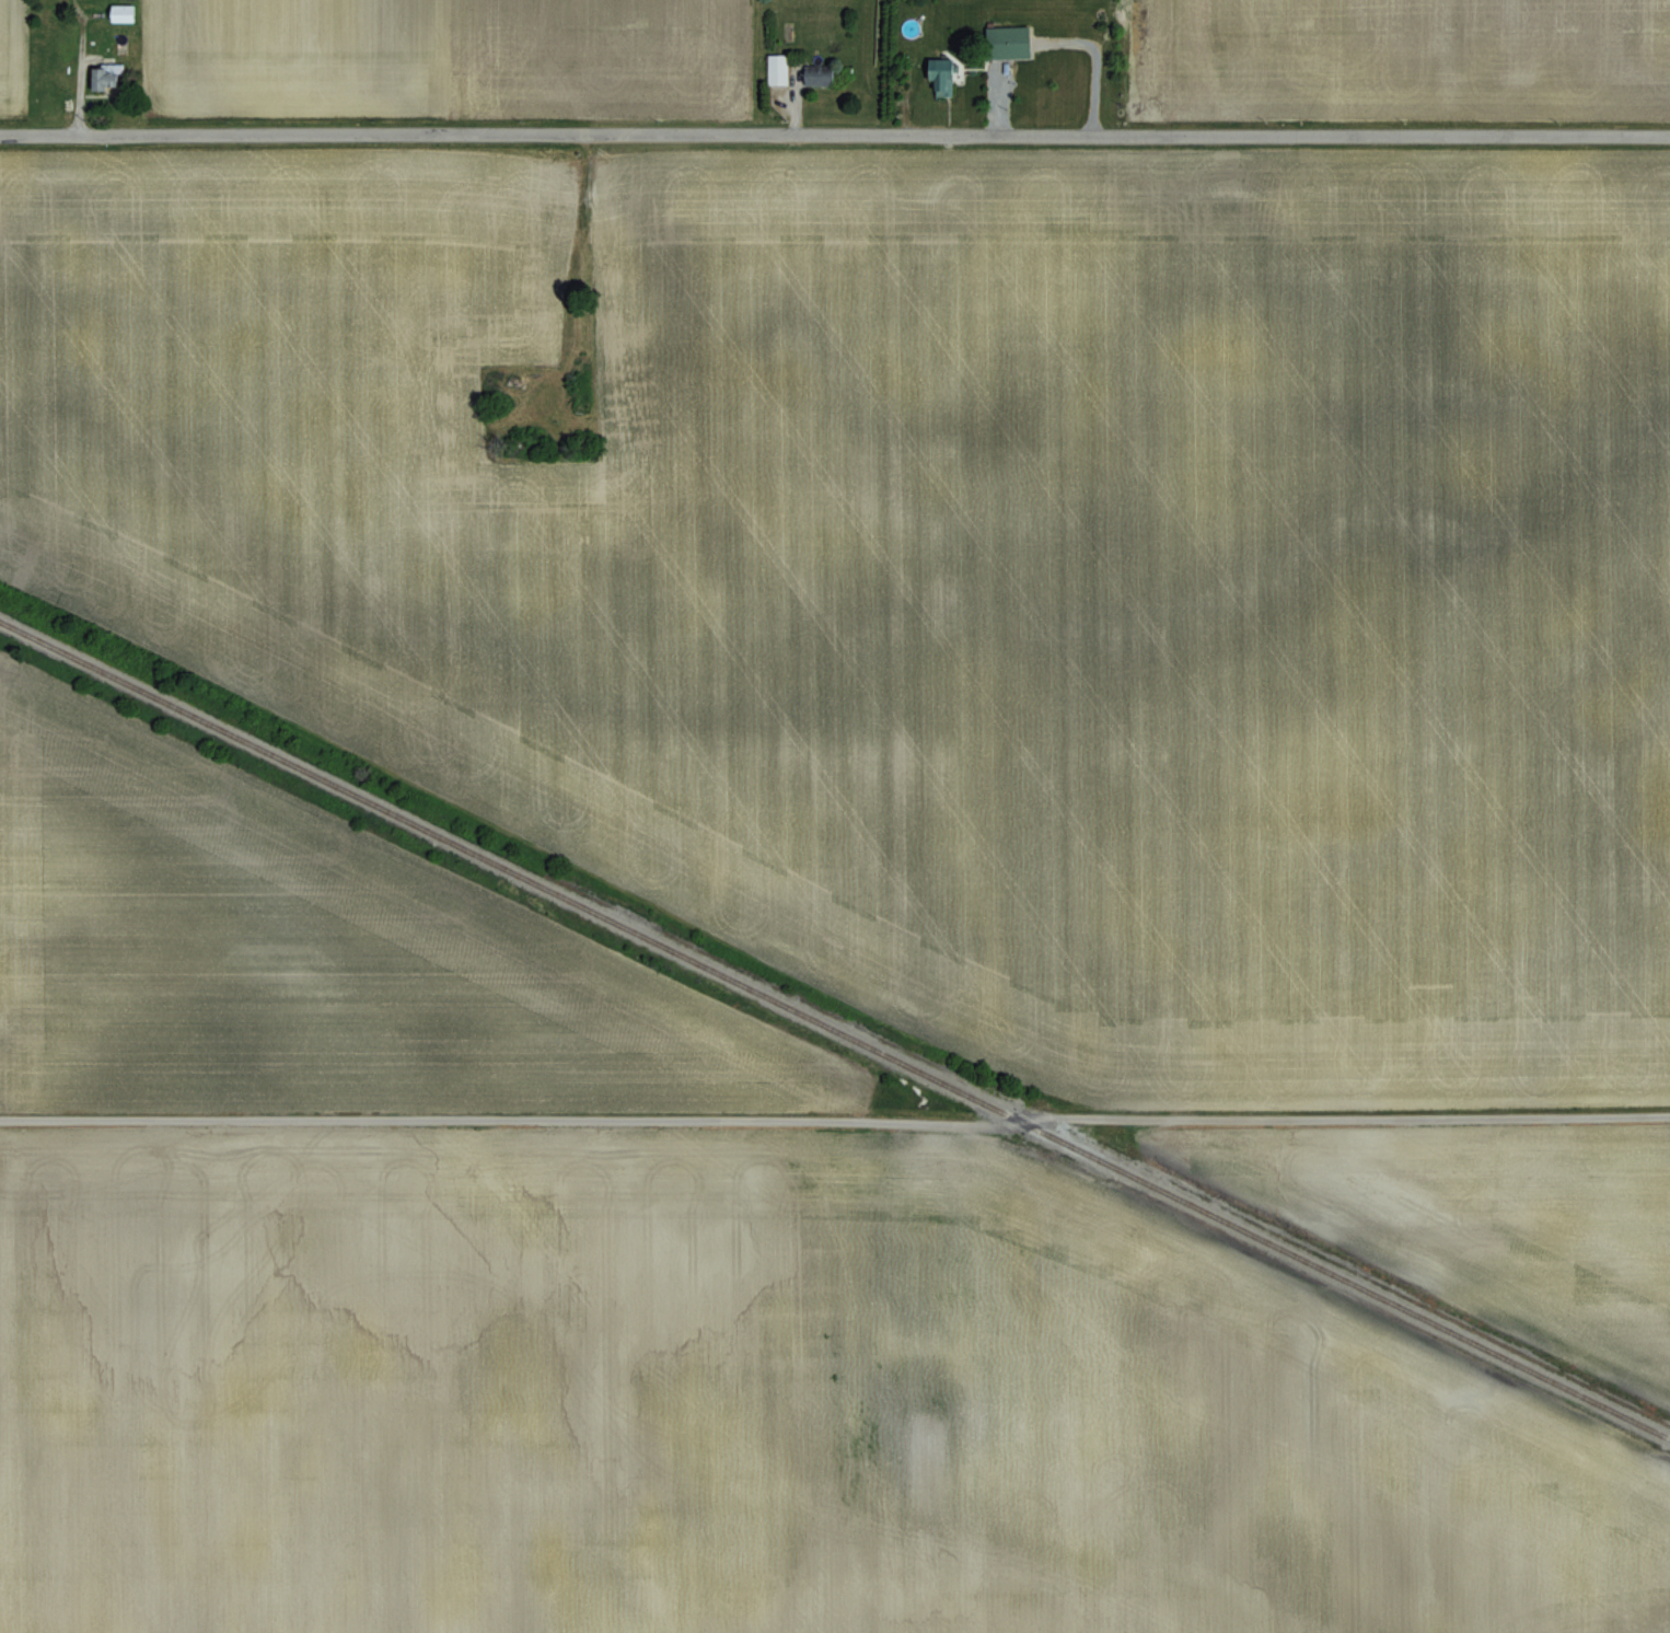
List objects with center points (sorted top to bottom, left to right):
road: (834, 129)
railway: (834, 1029)
road: (835, 1120)

